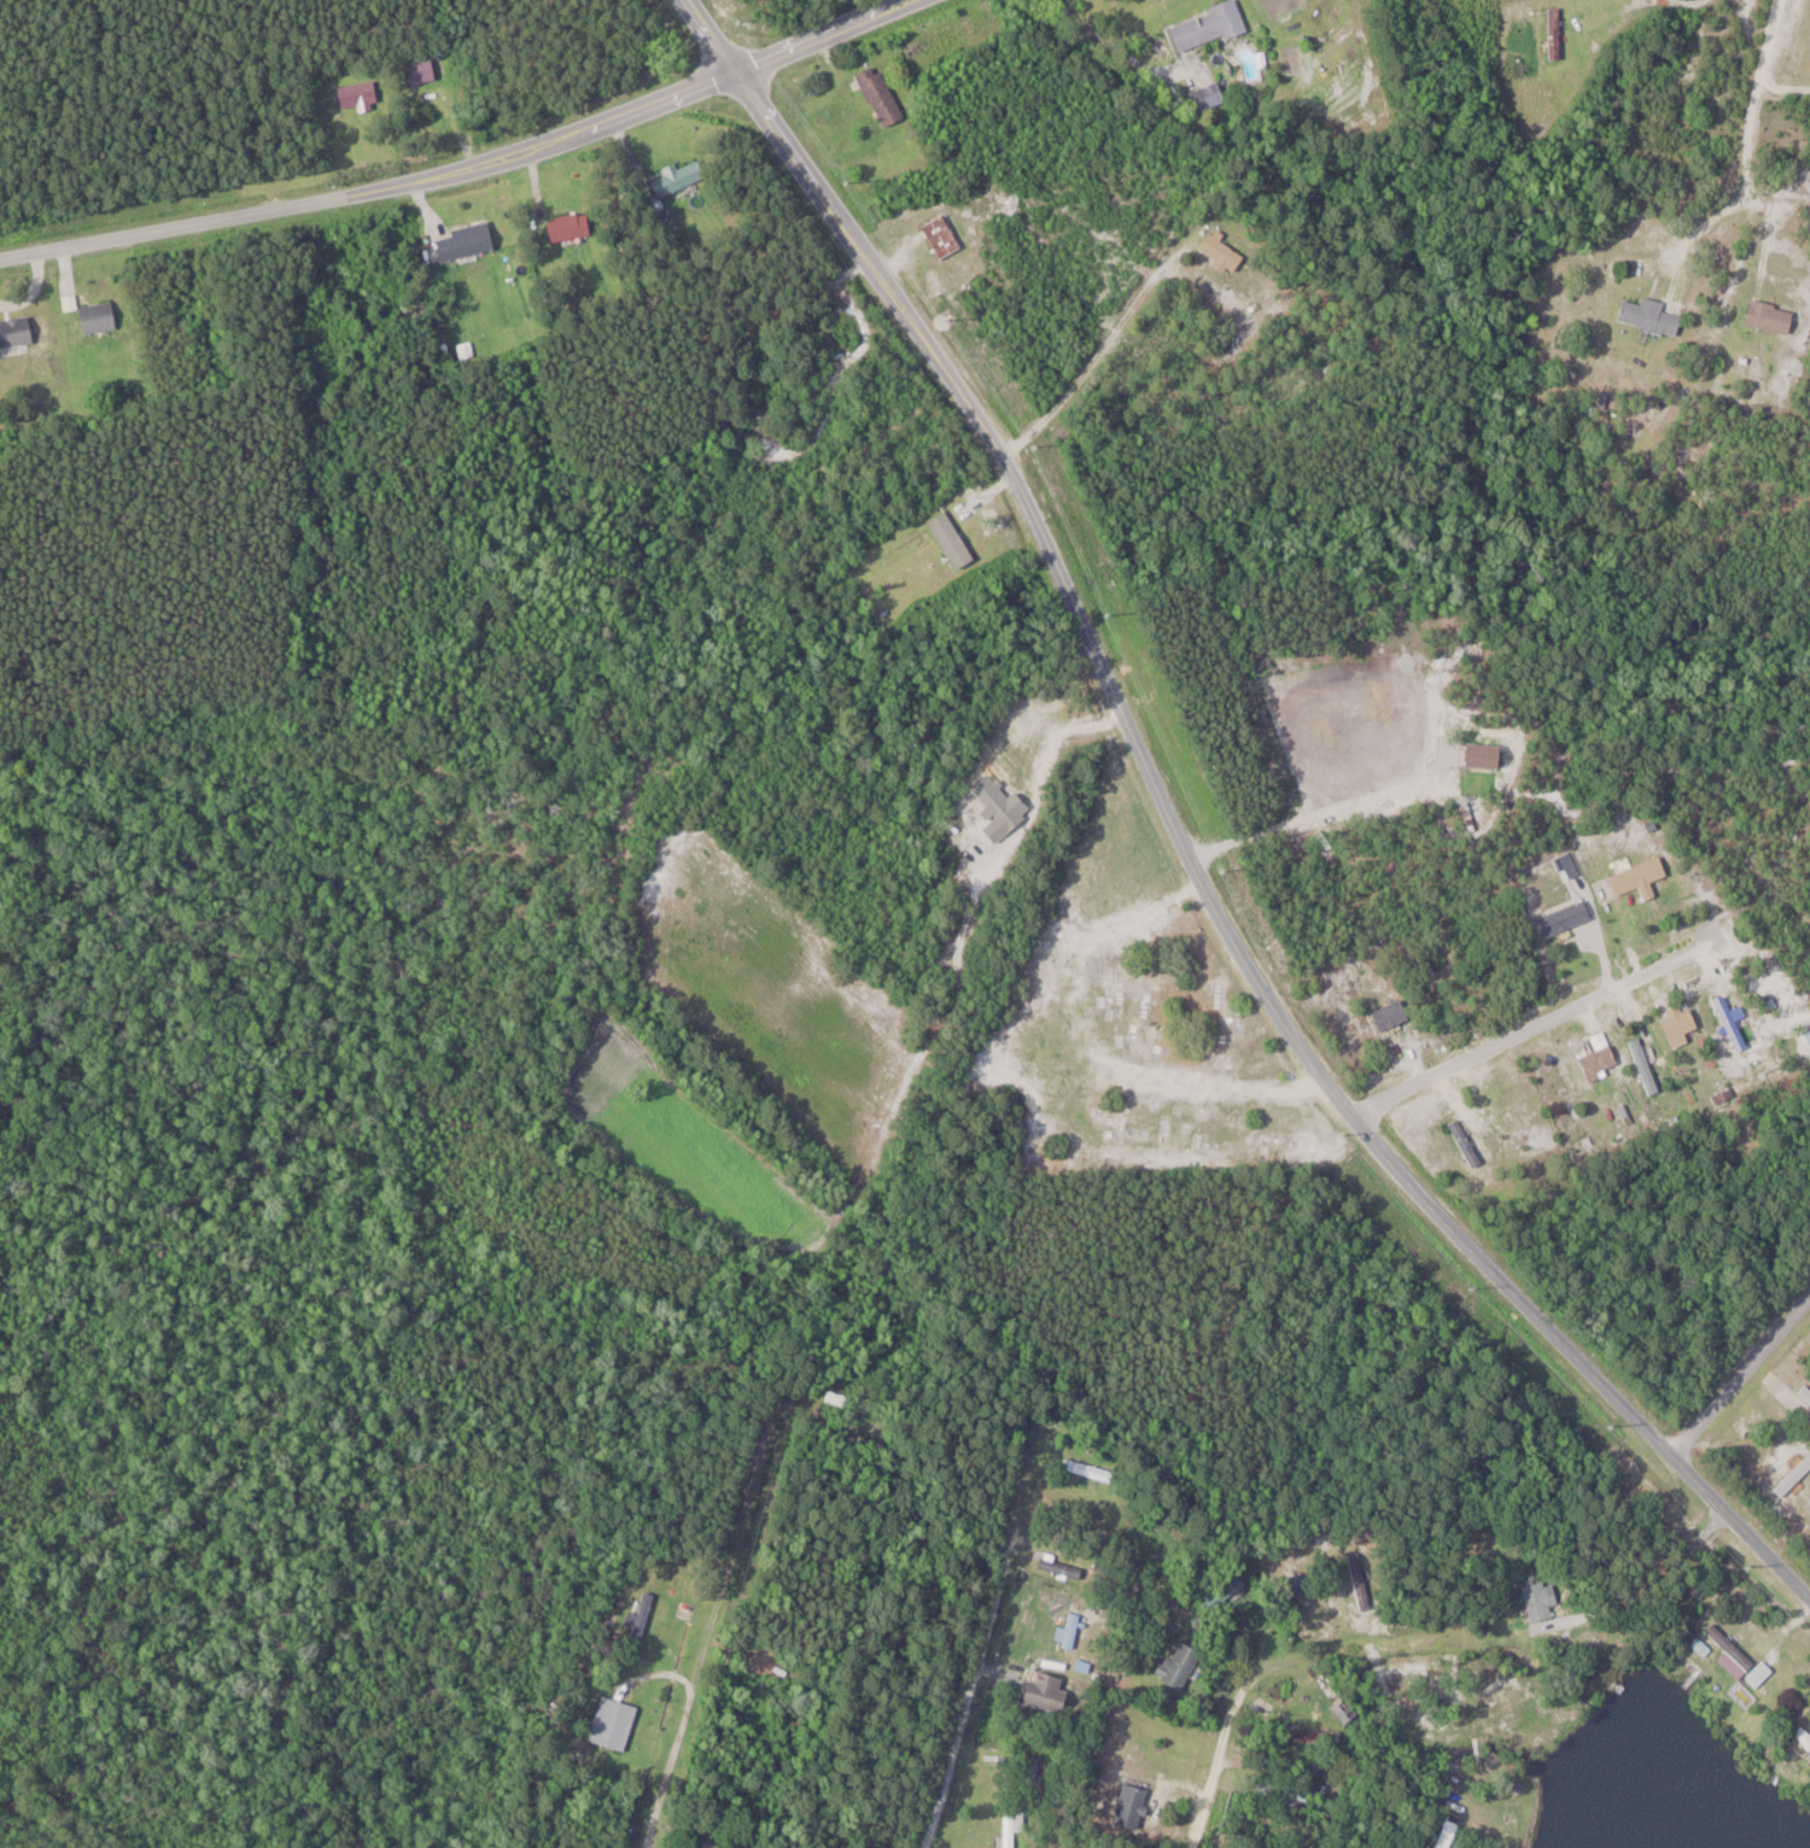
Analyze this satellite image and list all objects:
building: (1209, 27)
building: (419, 71)
road: (1767, 90)
building: (360, 95)
building: (882, 95)
building: (1209, 97)
road: (468, 170)
building: (677, 177)
building: (570, 226)
building: (942, 235)
building: (466, 240)
building: (1226, 251)
building: (1651, 315)
building: (99, 316)
building: (1773, 316)
building: (16, 331)
road: (1093, 358)
road: (1183, 844)
building: (1641, 876)
building: (1567, 918)
building: (1394, 1014)
building: (1733, 1021)
road: (1547, 1023)
building: (1682, 1025)
building: (1601, 1057)
building: (1646, 1064)
building: (1467, 1141)
road: (1729, 1331)
road: (1741, 1379)
building: (1805, 1391)
building: (839, 1397)
road: (753, 1446)
building: (1794, 1475)
building: (1063, 1566)
building: (1361, 1581)
building: (1543, 1604)
road: (982, 1618)
building: (1072, 1631)
building: (1740, 1657)
building: (1181, 1665)
road: (1260, 1667)
building: (1050, 1691)
building: (1347, 1710)
building: (615, 1723)
building: (1804, 1733)
building: (1309, 1735)
building: (1288, 1789)
building: (1134, 1802)
building: (1011, 1827)
building: (1449, 1834)
building: (711, 1846)

